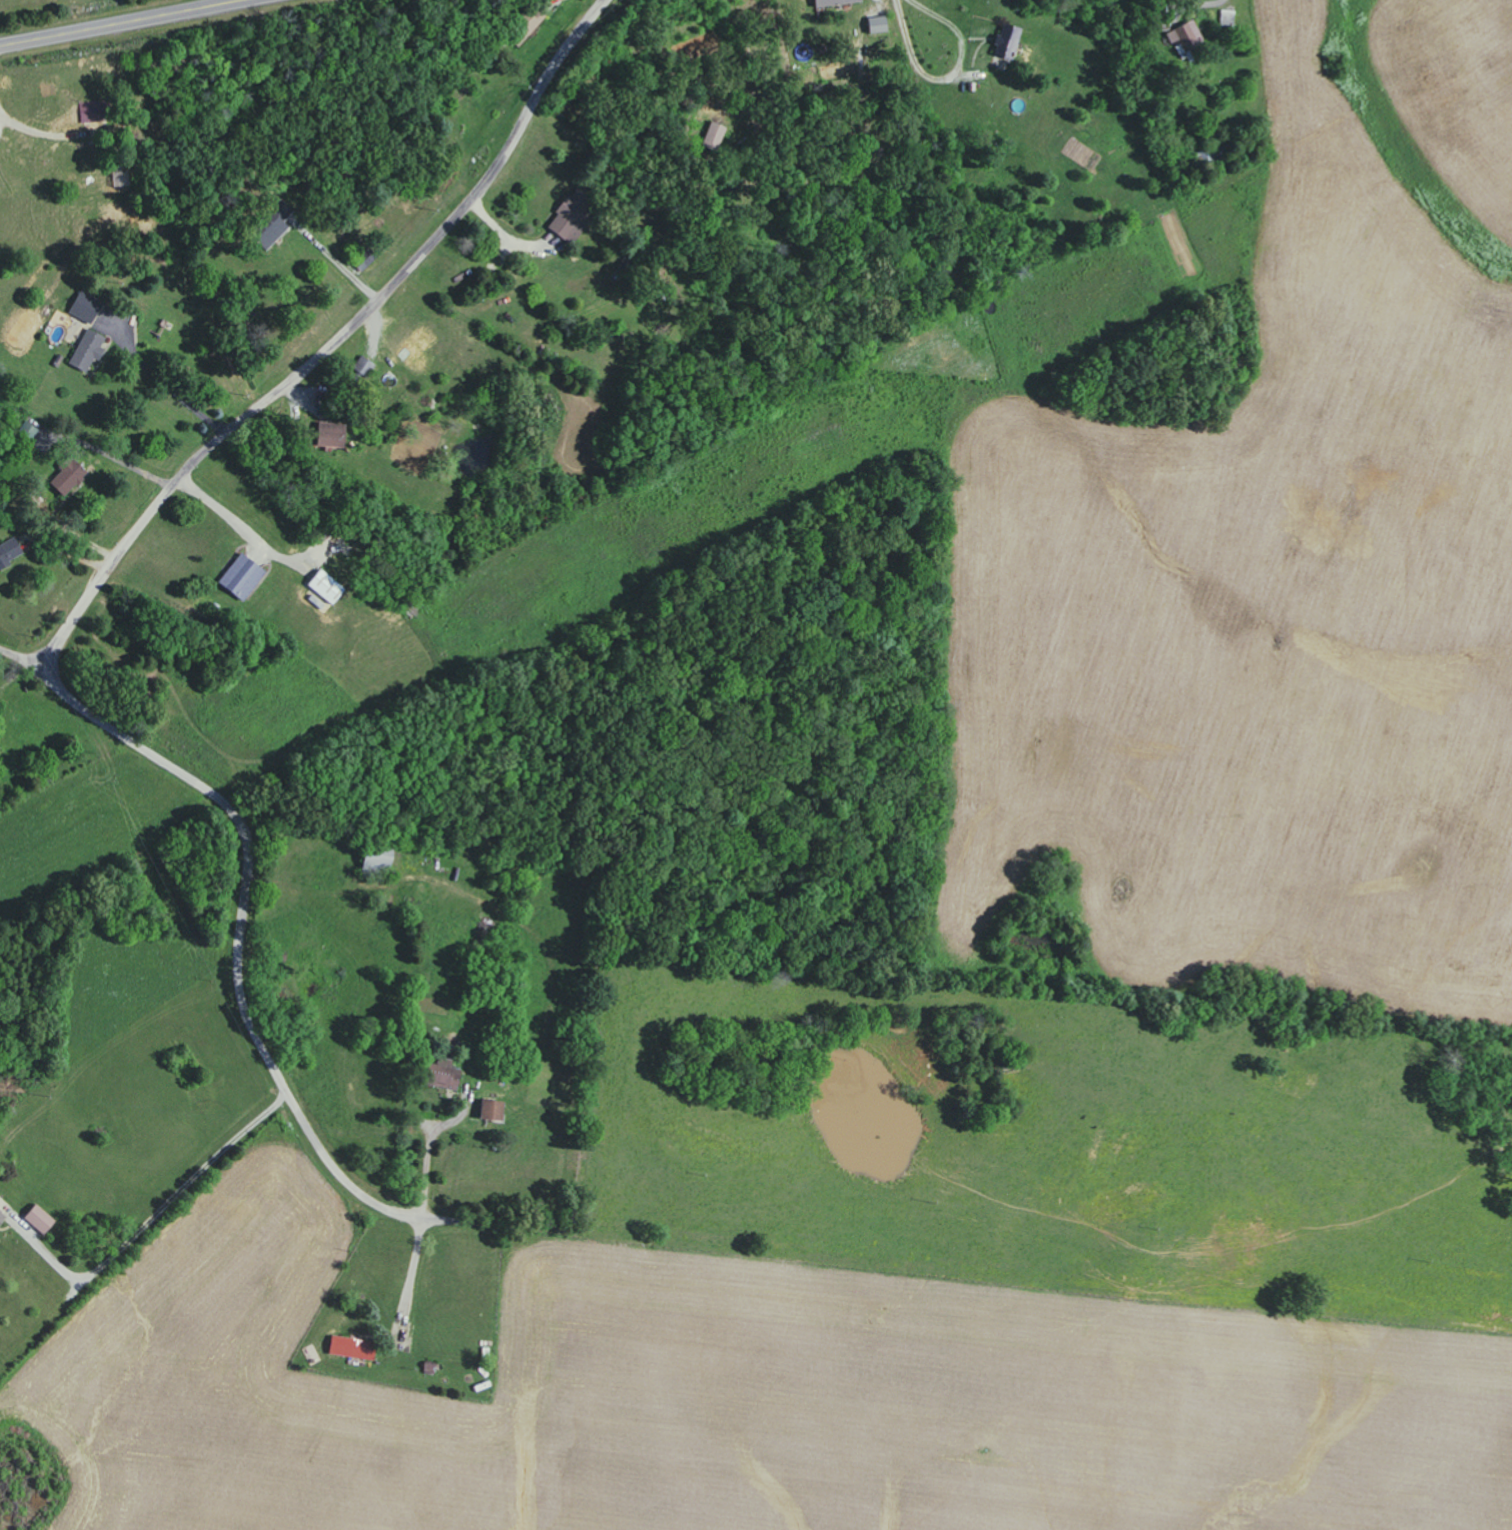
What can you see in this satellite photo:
building: (834, 1)
road: (125, 24)
building: (874, 24)
building: (522, 26)
building: (1182, 34)
building: (1003, 41)
road: (952, 77)
road: (35, 133)
building: (713, 134)
building: (567, 219)
building: (272, 226)
road: (343, 265)
building: (83, 306)
road: (334, 345)
building: (86, 350)
building: (361, 366)
road: (159, 376)
building: (326, 431)
building: (25, 436)
road: (122, 459)
building: (66, 474)
road: (240, 524)
building: (9, 554)
building: (237, 577)
building: (324, 587)
road: (240, 930)
building: (487, 1110)
road: (431, 1147)
road: (155, 1210)
building: (1, 1214)
building: (37, 1218)
road: (412, 1274)
building: (348, 1346)

